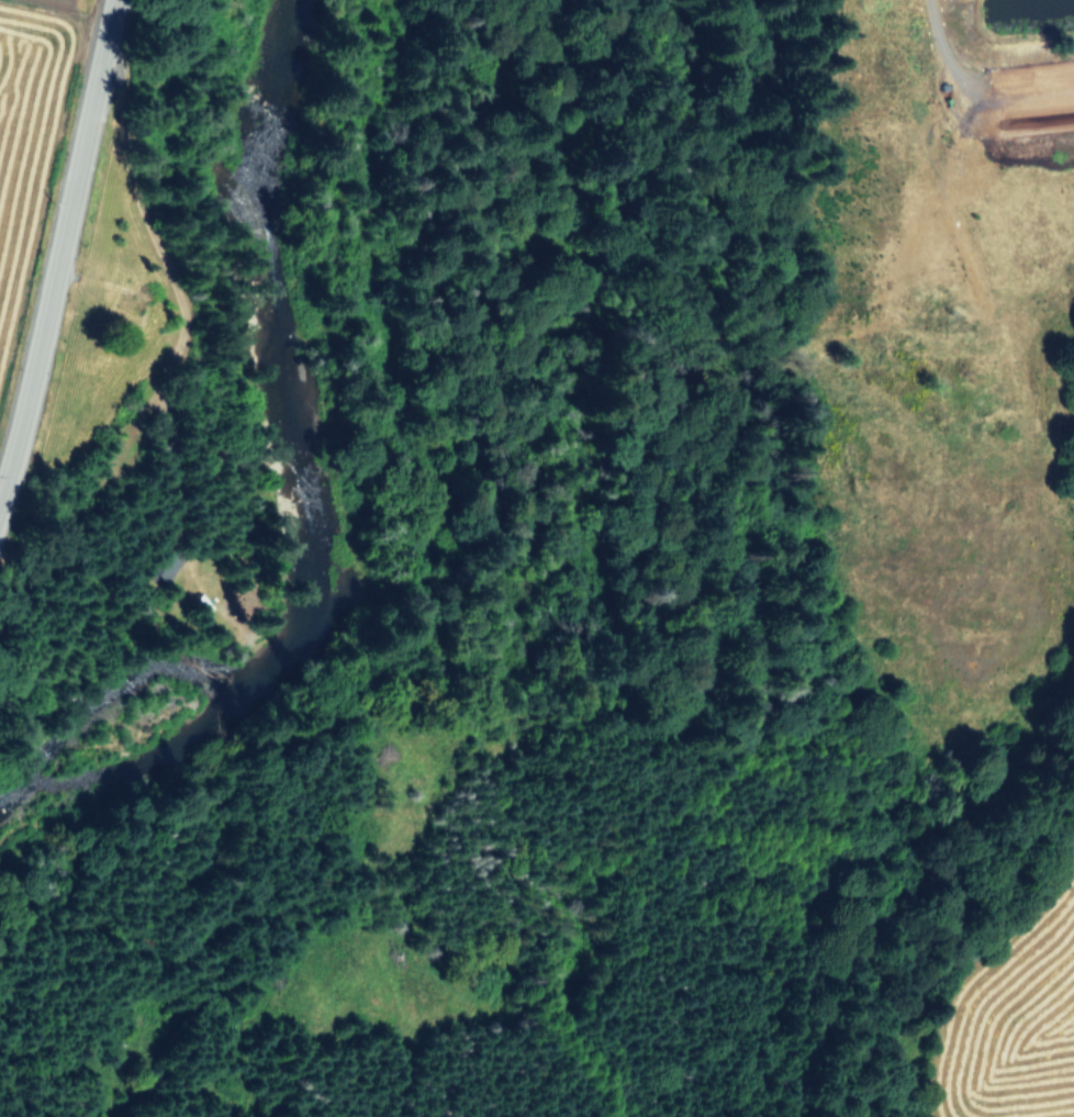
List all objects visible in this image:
road: (973, 92)
crop: (63, 246)
road: (60, 254)
crop: (928, 316)
crop: (1032, 1046)

